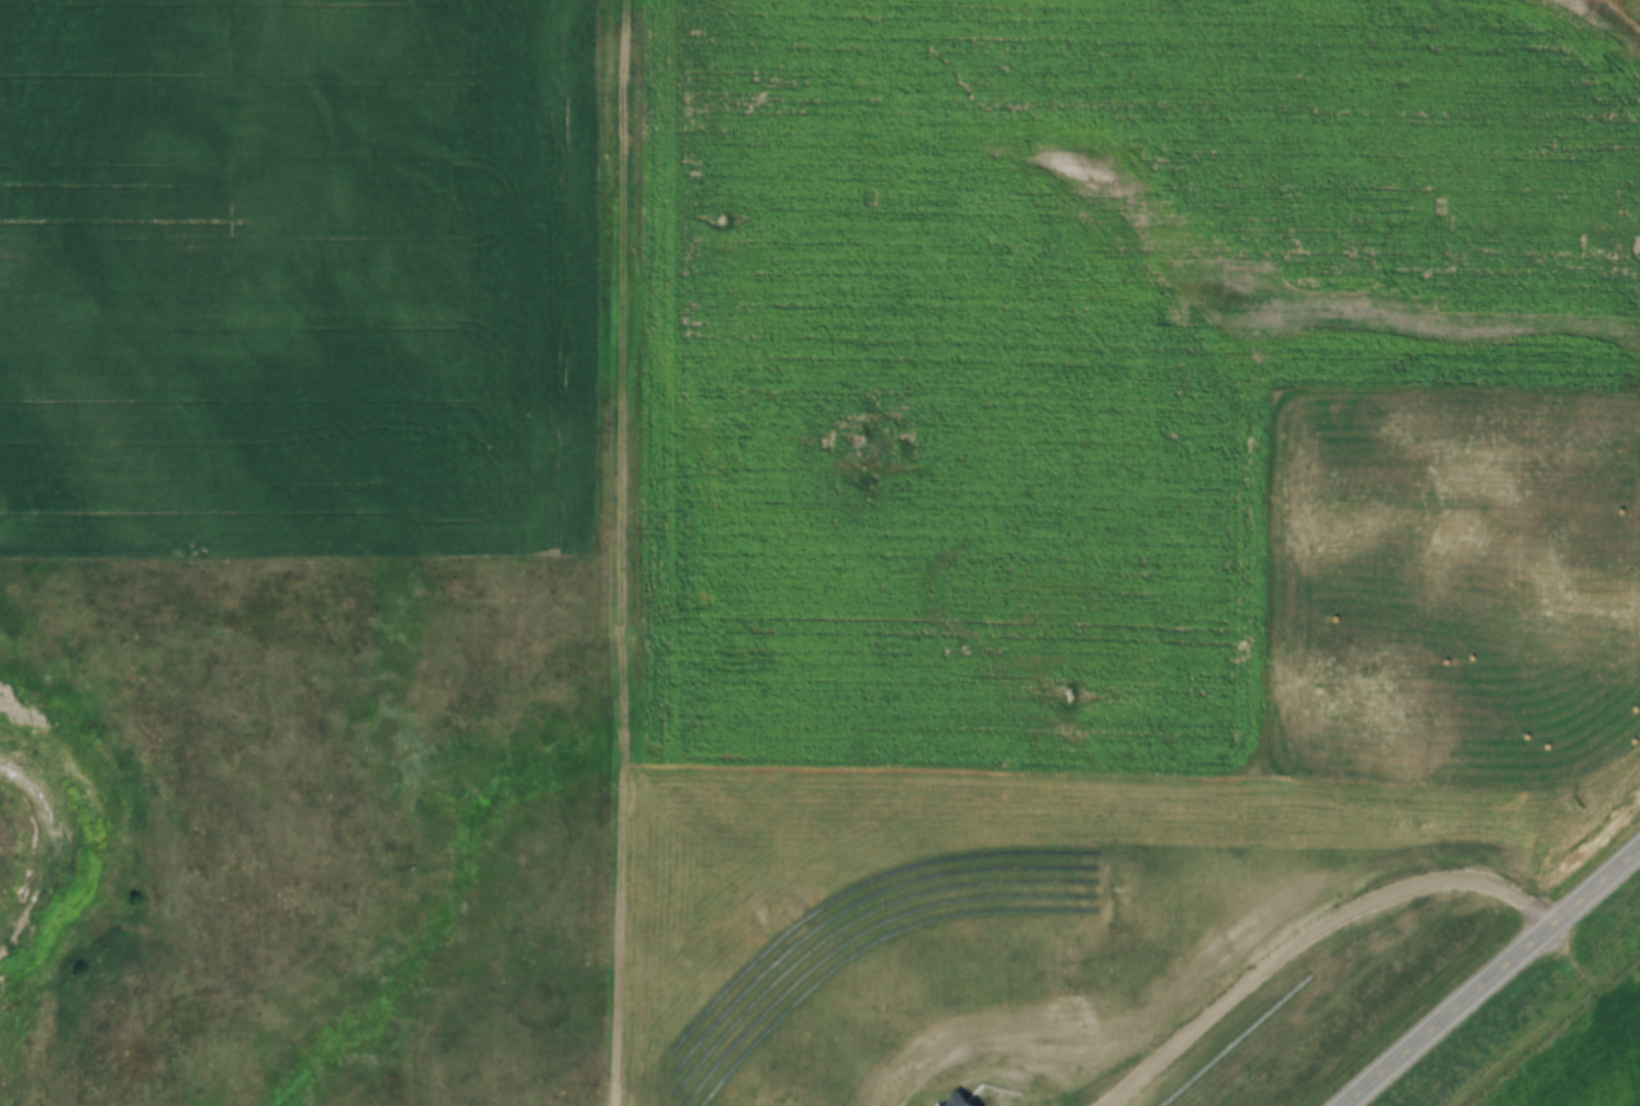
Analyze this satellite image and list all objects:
road: (632, 552)
road: (1492, 977)

